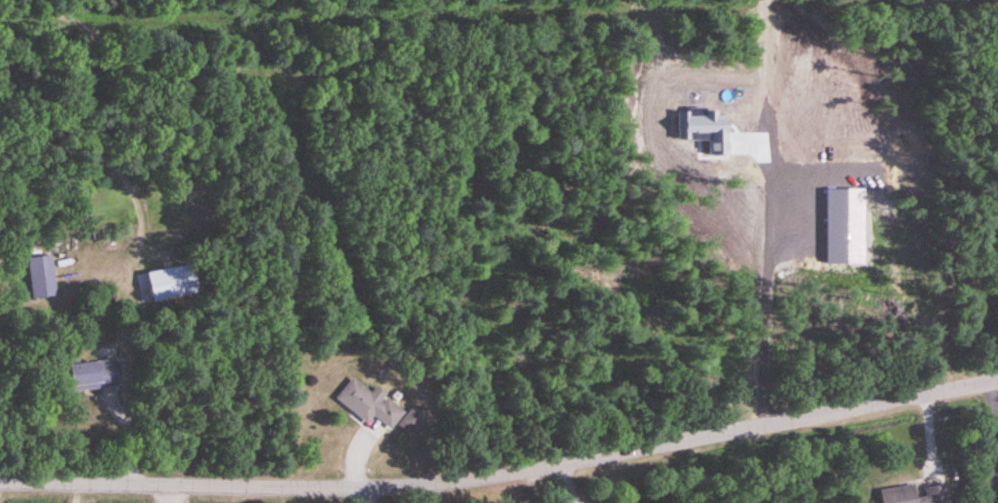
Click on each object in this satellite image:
building: (41, 277)
road: (763, 292)
building: (92, 375)
building: (369, 404)
road: (995, 442)
road: (503, 476)
road: (71, 493)
building: (913, 494)

